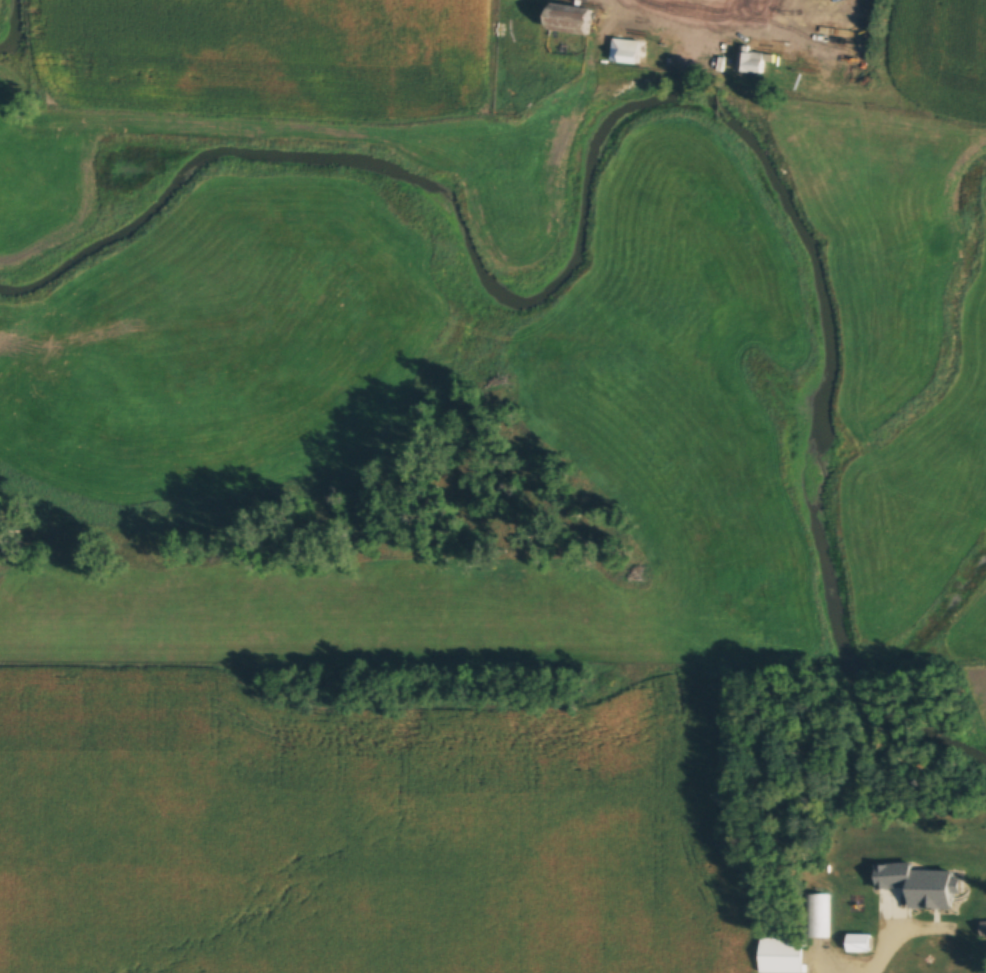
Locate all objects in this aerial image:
road: (674, 13)
building: (732, 17)
building: (574, 18)
building: (629, 51)
building: (752, 61)
building: (931, 883)
building: (983, 929)
building: (861, 943)
road: (887, 951)
building: (778, 956)

